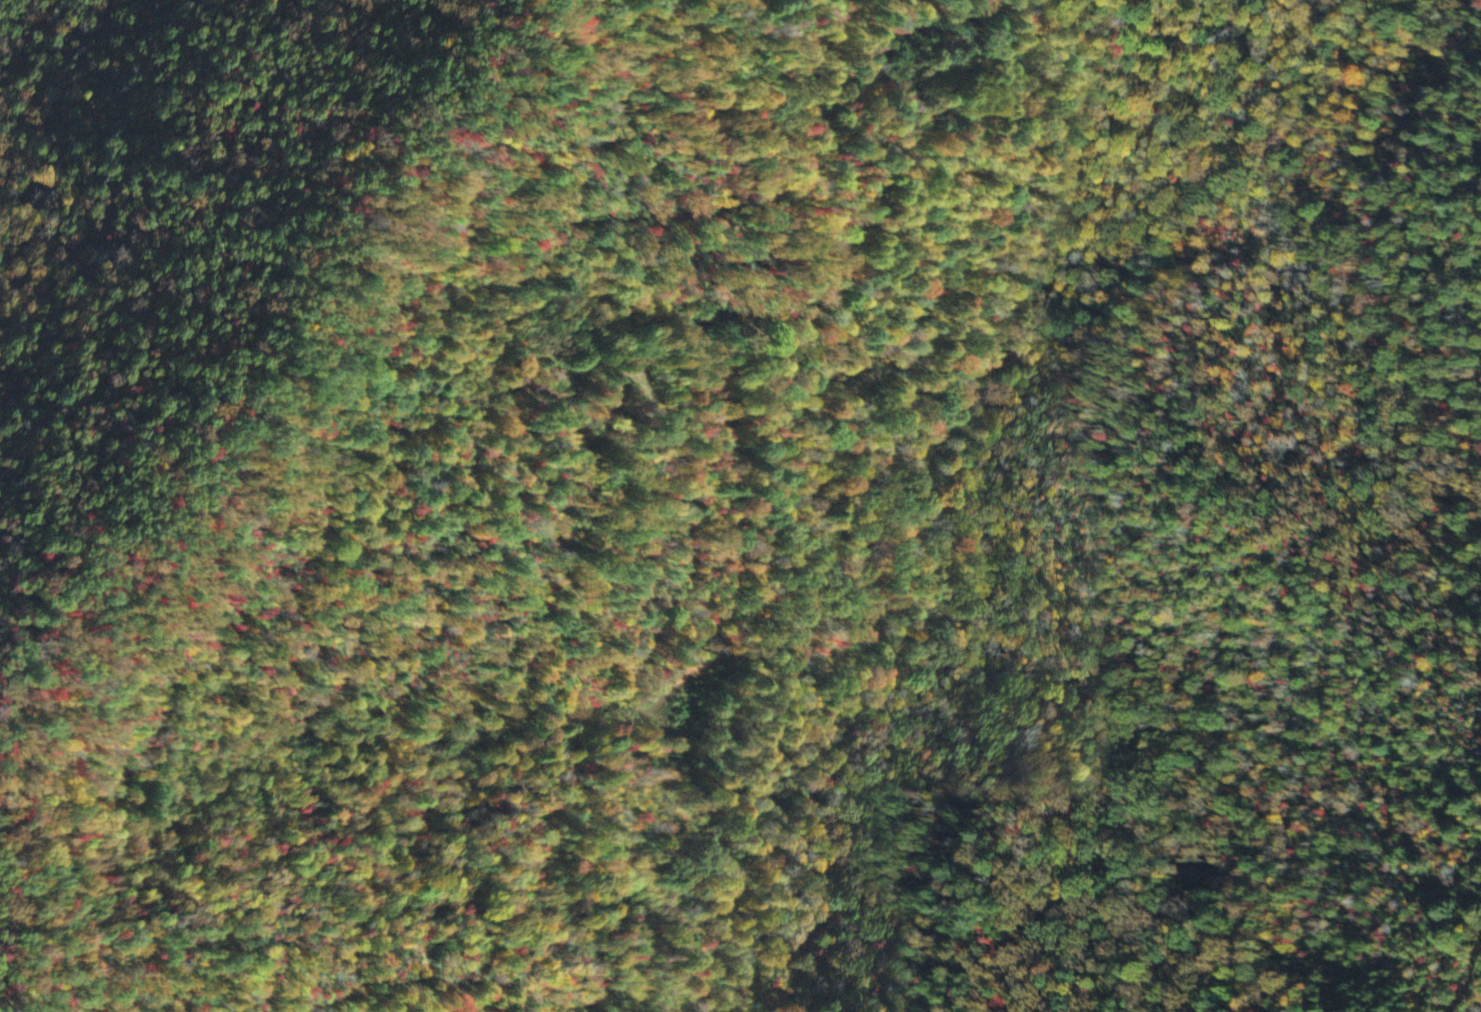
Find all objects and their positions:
road: (1470, 986)

